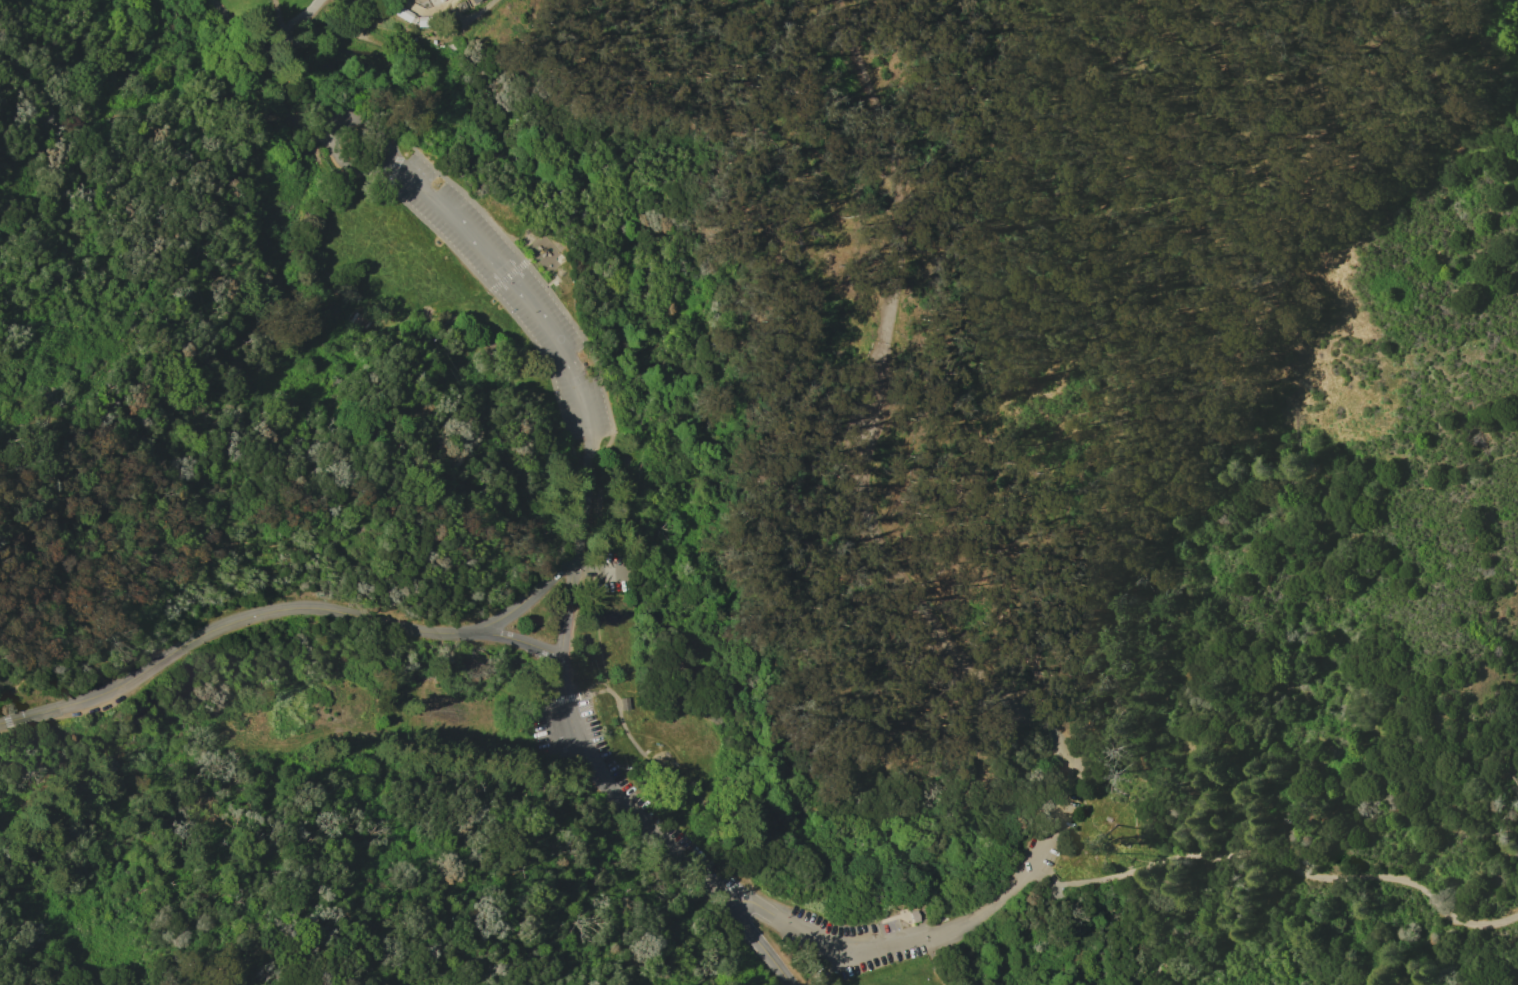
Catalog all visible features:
road: (385, 2)
road: (426, 14)
road: (277, 18)
road: (301, 18)
road: (225, 24)
road: (363, 29)
road: (375, 39)
road: (282, 48)
road: (252, 55)
road: (141, 59)
road: (316, 63)
road: (295, 103)
road: (339, 131)
road: (885, 167)
road: (63, 174)
parking lot: (499, 281)
road: (516, 286)
parking lot: (870, 376)
road: (318, 427)
road: (586, 504)
road: (603, 570)
parking lot: (612, 573)
road: (1260, 591)
road: (532, 595)
road: (231, 626)
road: (595, 628)
road: (521, 641)
road: (943, 645)
road: (594, 683)
road: (588, 695)
road: (565, 699)
road: (620, 717)
road: (617, 795)
parking lot: (639, 818)
road: (1274, 863)
road: (990, 908)
road: (1088, 908)
road: (1135, 926)
road: (854, 952)
road: (1159, 960)
road: (938, 962)
road: (321, 967)

